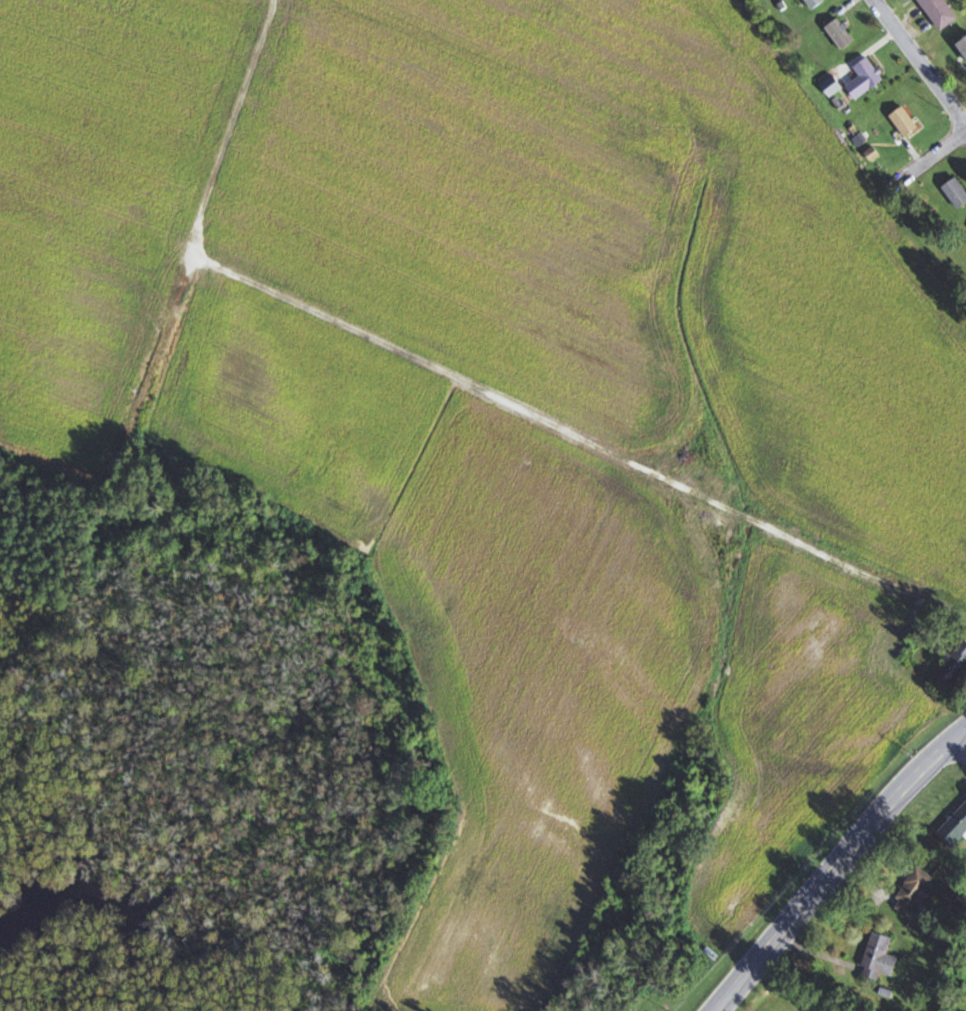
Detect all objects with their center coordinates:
building: (815, 4)
building: (939, 13)
building: (840, 36)
building: (963, 48)
road: (920, 62)
building: (865, 80)
building: (831, 87)
building: (904, 123)
road: (935, 153)
building: (956, 194)
building: (953, 666)
road: (959, 741)
road: (959, 748)
building: (954, 828)
road: (831, 875)
building: (880, 955)

